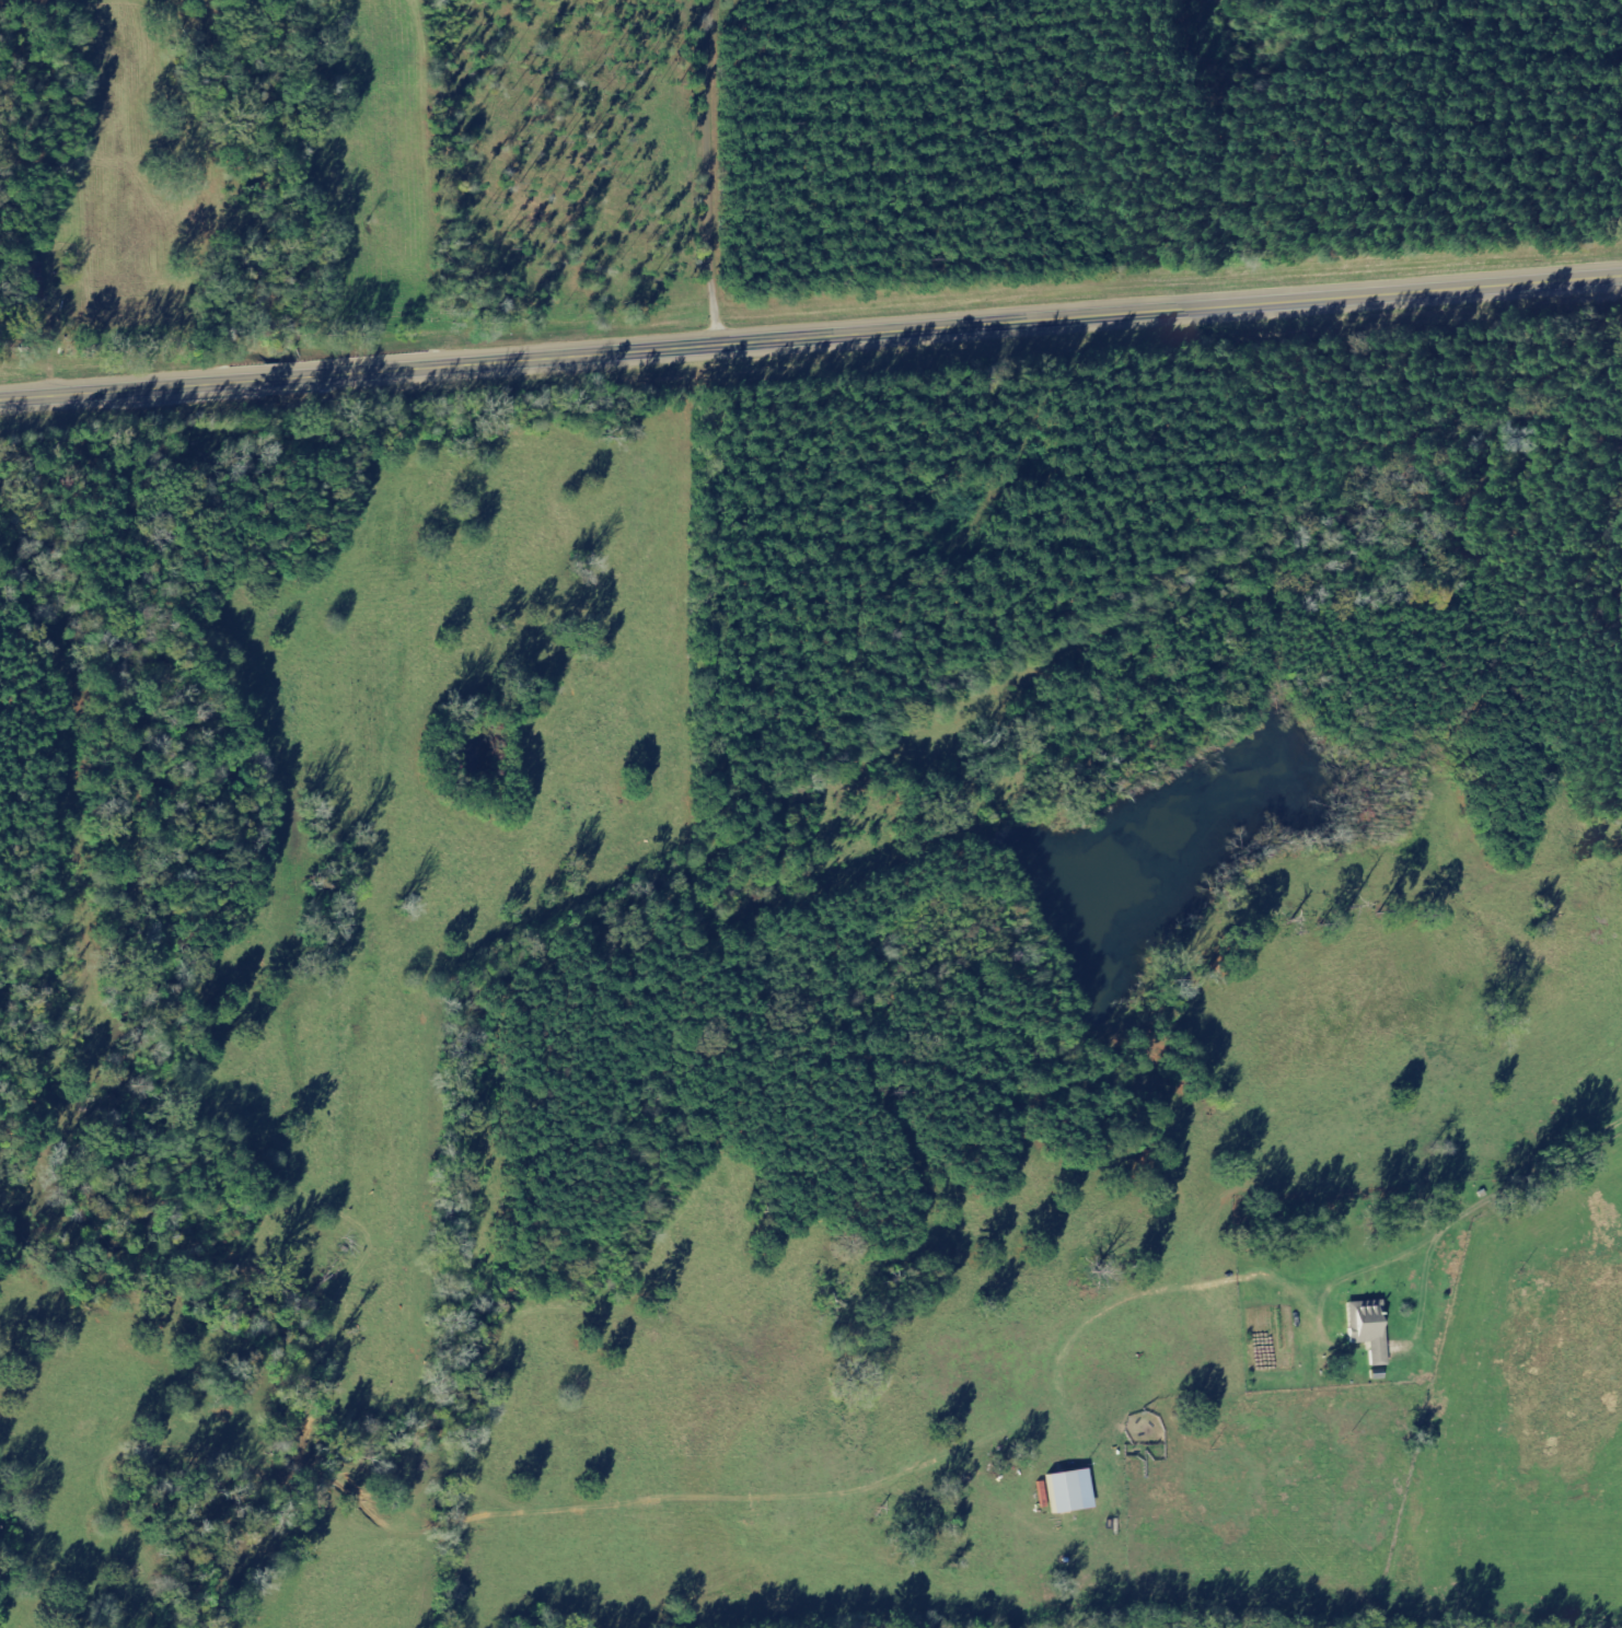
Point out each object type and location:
road: (745, 174)
road: (810, 344)
road: (1307, 1275)
building: (1369, 1328)
building: (1070, 1493)

